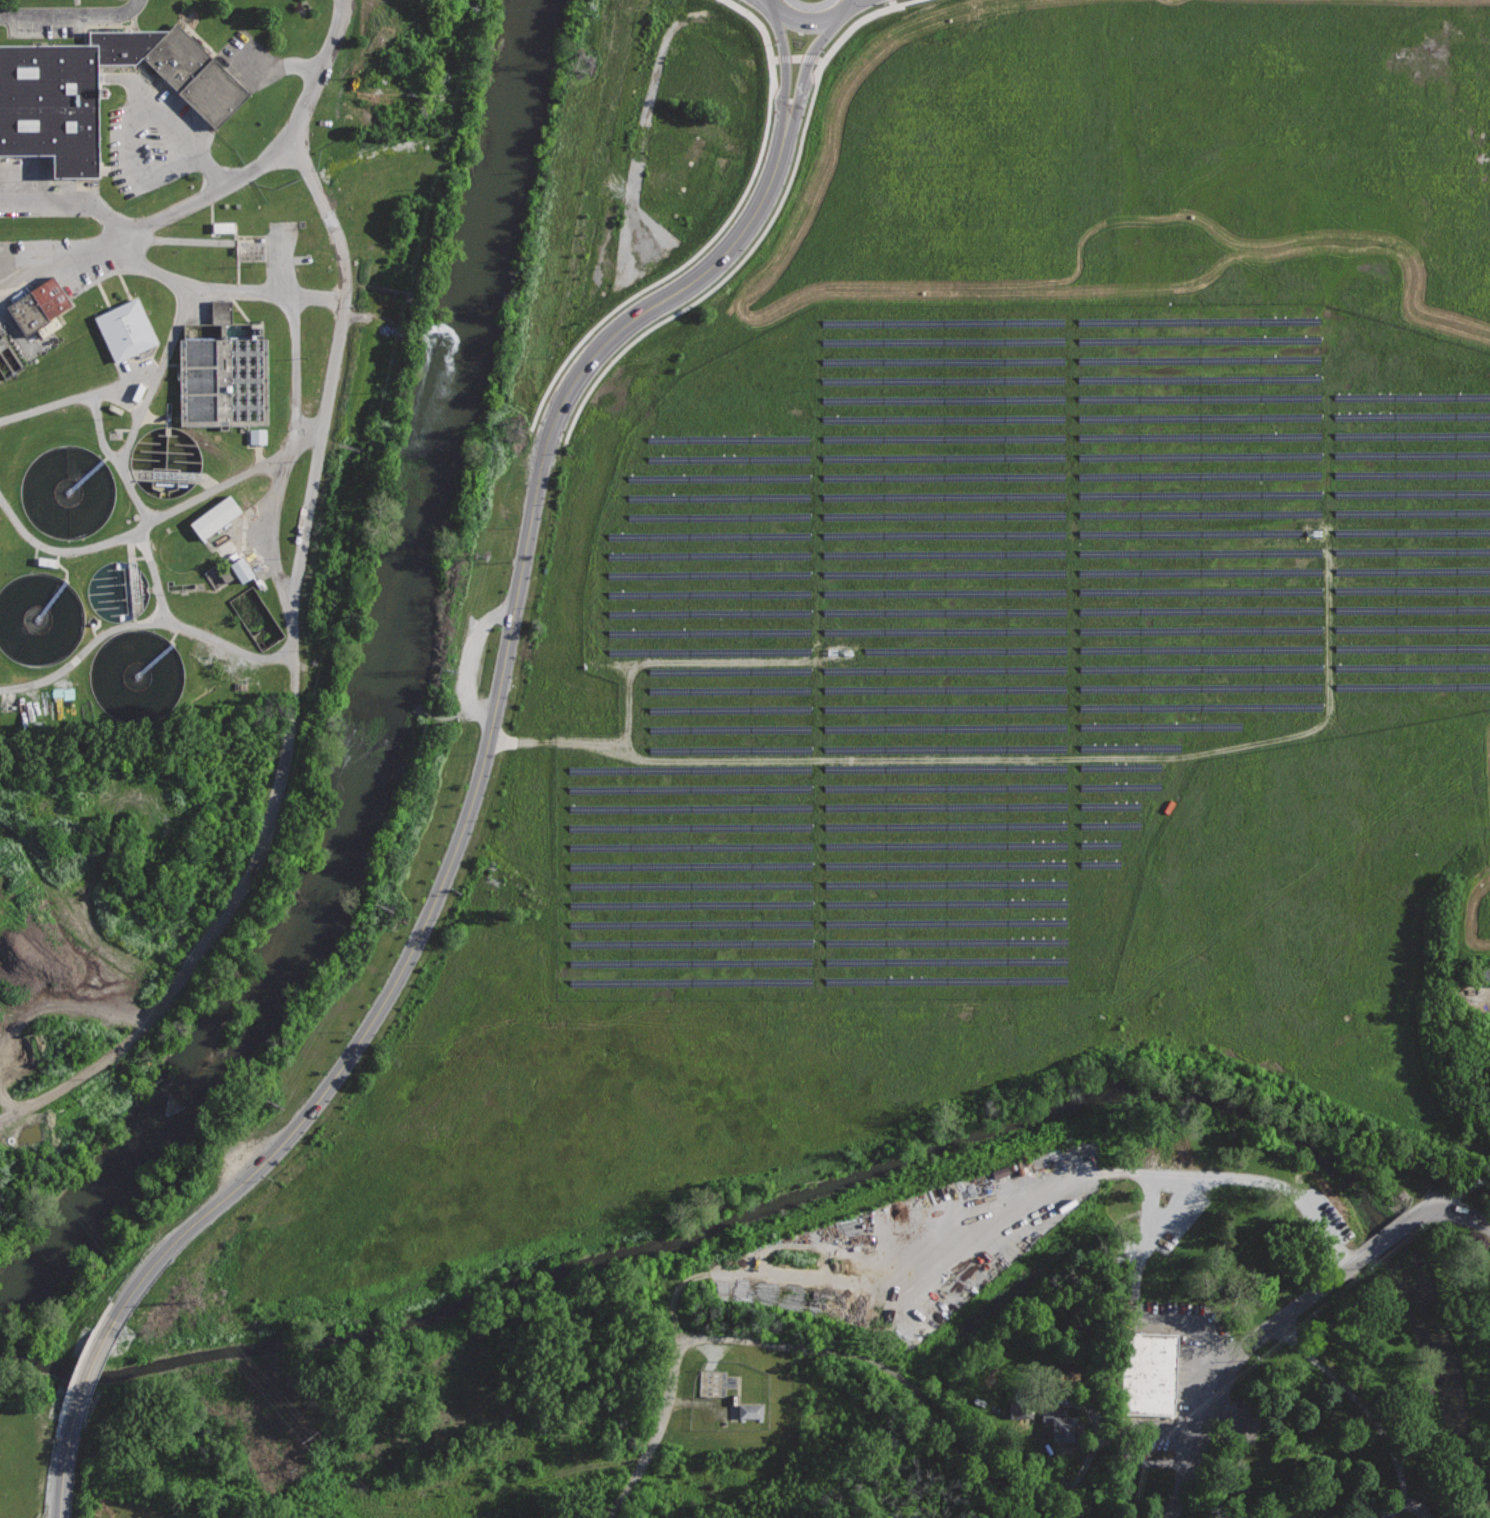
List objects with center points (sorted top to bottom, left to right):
road: (892, 2)
road: (810, 13)
road: (114, 15)
road: (4, 16)
road: (46, 17)
parking lot: (46, 23)
road: (794, 58)
power tower: (586, 65)
road: (276, 69)
road: (787, 74)
road: (802, 76)
building: (97, 90)
road: (156, 112)
parking lot: (152, 134)
road: (196, 147)
road: (215, 175)
road: (221, 188)
building: (221, 227)
road: (762, 232)
road: (711, 237)
road: (63, 257)
road: (668, 292)
road: (268, 293)
building: (40, 306)
building: (222, 311)
building: (126, 329)
road: (174, 334)
building: (223, 380)
storage tank: (223, 380)
road: (80, 397)
road: (296, 417)
power tower: (516, 432)
building: (256, 437)
road: (118, 459)
building: (165, 461)
storage tank: (165, 461)
building: (68, 490)
storage tank: (68, 490)
wastewater plant: (192, 501)
building: (215, 517)
road: (159, 519)
building: (1312, 532)
building: (239, 570)
road: (155, 576)
building: (117, 590)
storage tank: (117, 590)
building: (39, 618)
storage tank: (39, 618)
road: (139, 624)
solar farm: (994, 628)
building: (838, 652)
road: (716, 660)
road: (473, 661)
building: (136, 674)
storage tank: (136, 674)
road: (294, 679)
road: (630, 708)
river: (386, 710)
road: (445, 717)
road: (1003, 758)
road: (1179, 778)
building: (1167, 807)
power tower: (383, 908)
road: (420, 936)
road: (65, 993)
road: (1474, 997)
road: (5, 1085)
power tower: (274, 1105)
road: (1246, 1175)
river: (858, 1184)
road: (1180, 1209)
road: (1458, 1209)
parking lot: (1188, 1211)
parking lot: (1333, 1223)
road: (1386, 1237)
parking lot: (914, 1245)
road: (673, 1295)
road: (1311, 1296)
road: (1145, 1319)
park: (1304, 1331)
road: (94, 1368)
parking lot: (1183, 1368)
road: (891, 1371)
building: (1142, 1373)
road: (1358, 1401)
building: (748, 1411)
road: (1206, 1413)
building: (1063, 1423)
road: (656, 1434)
road: (69, 1451)
road: (1405, 1502)
road: (60, 1516)

